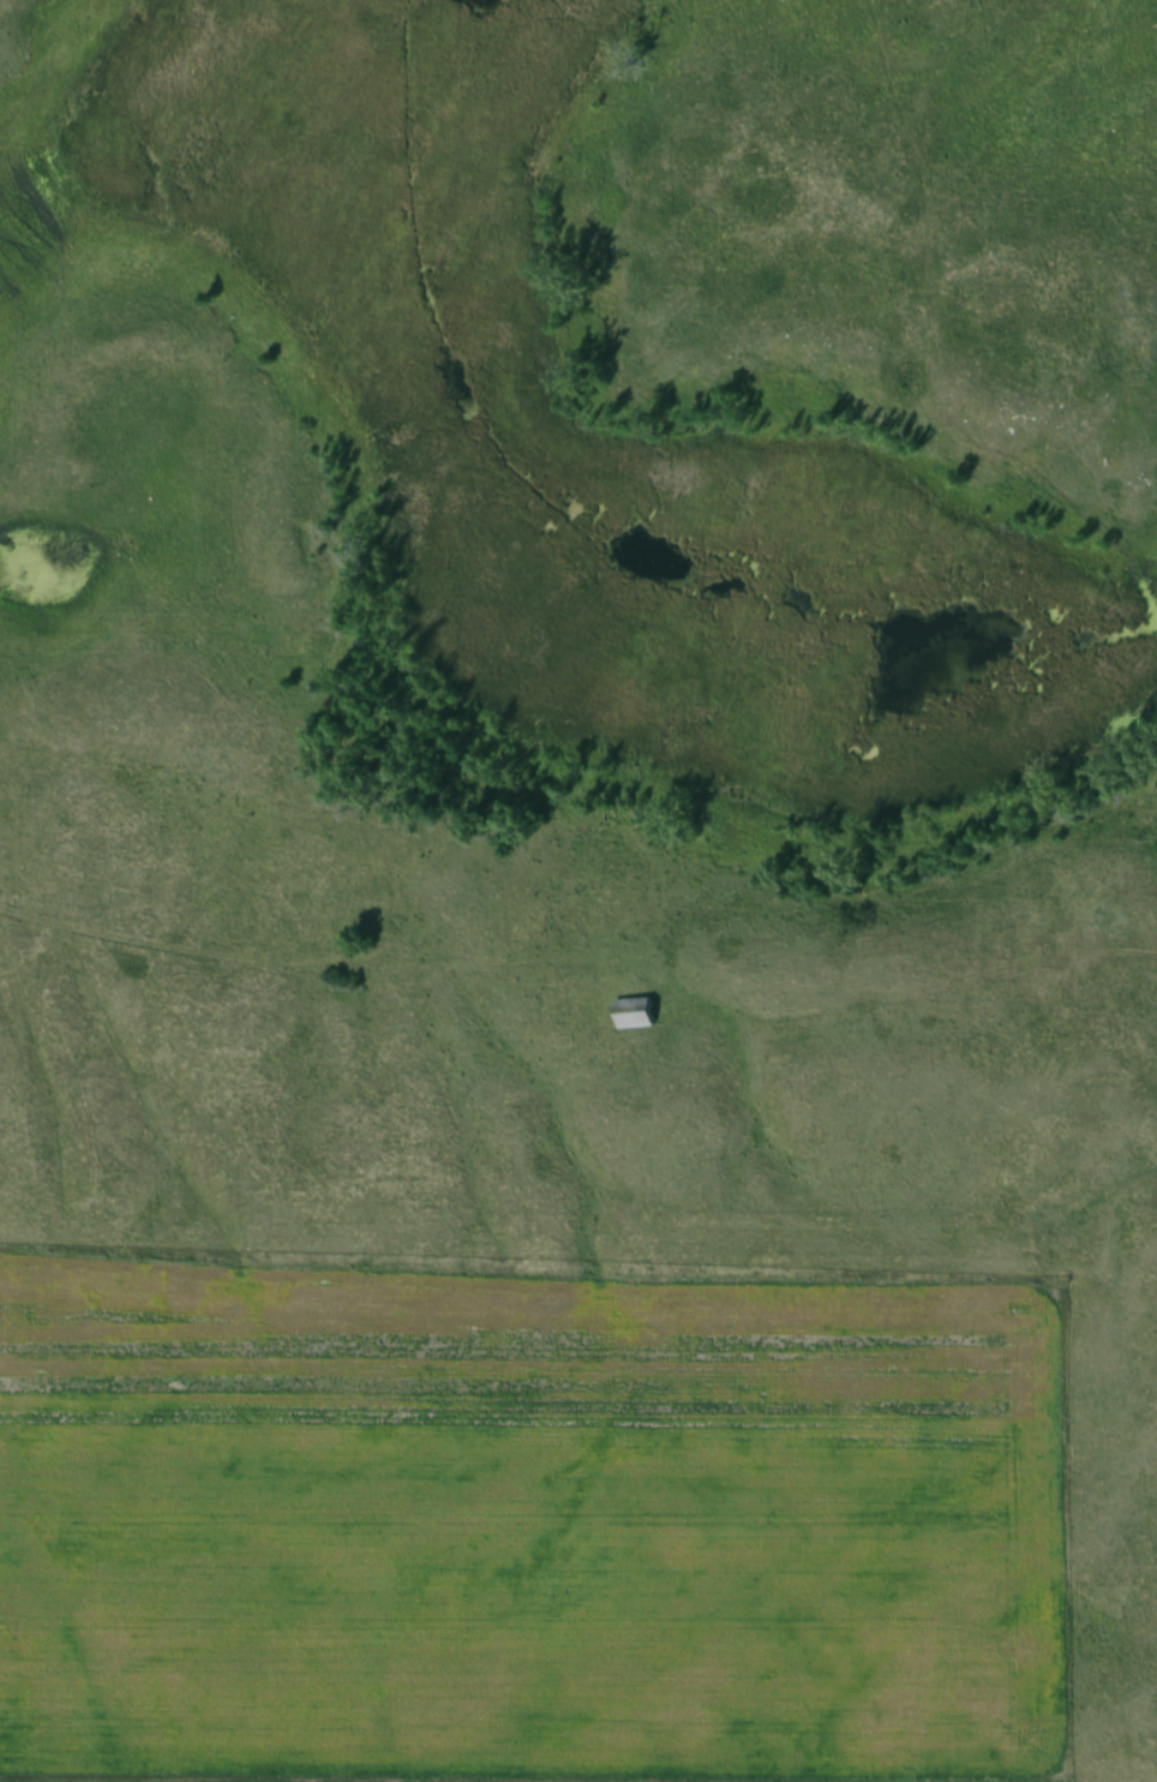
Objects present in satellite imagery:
building: (633, 1015)

